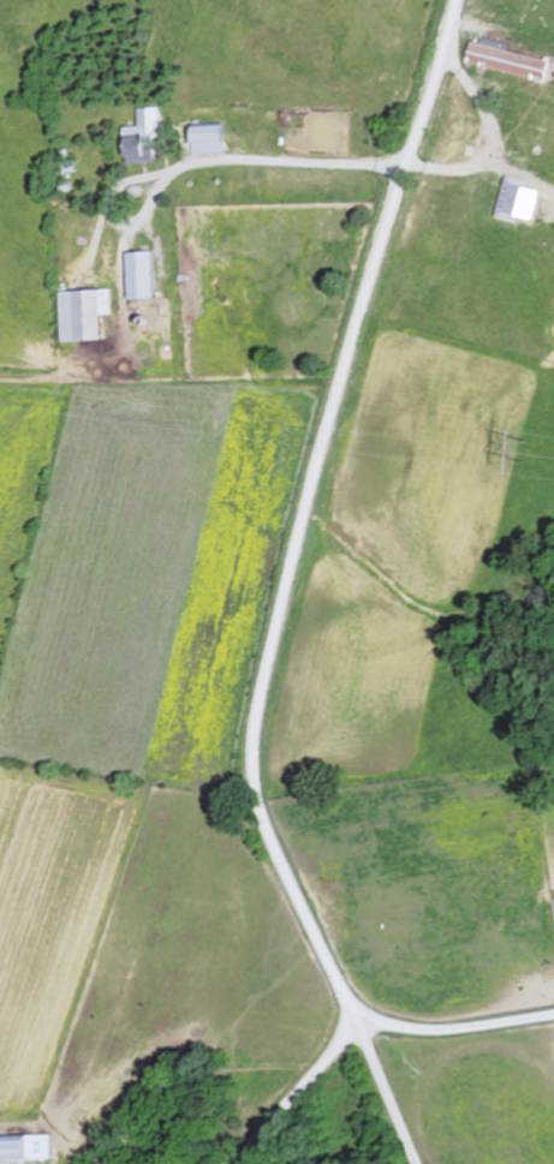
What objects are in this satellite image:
building: (512, 59)
building: (148, 137)
building: (213, 138)
building: (523, 199)
building: (145, 274)
building: (89, 314)
power tower: (524, 448)
road: (284, 605)
road: (298, 1088)
building: (28, 1147)

